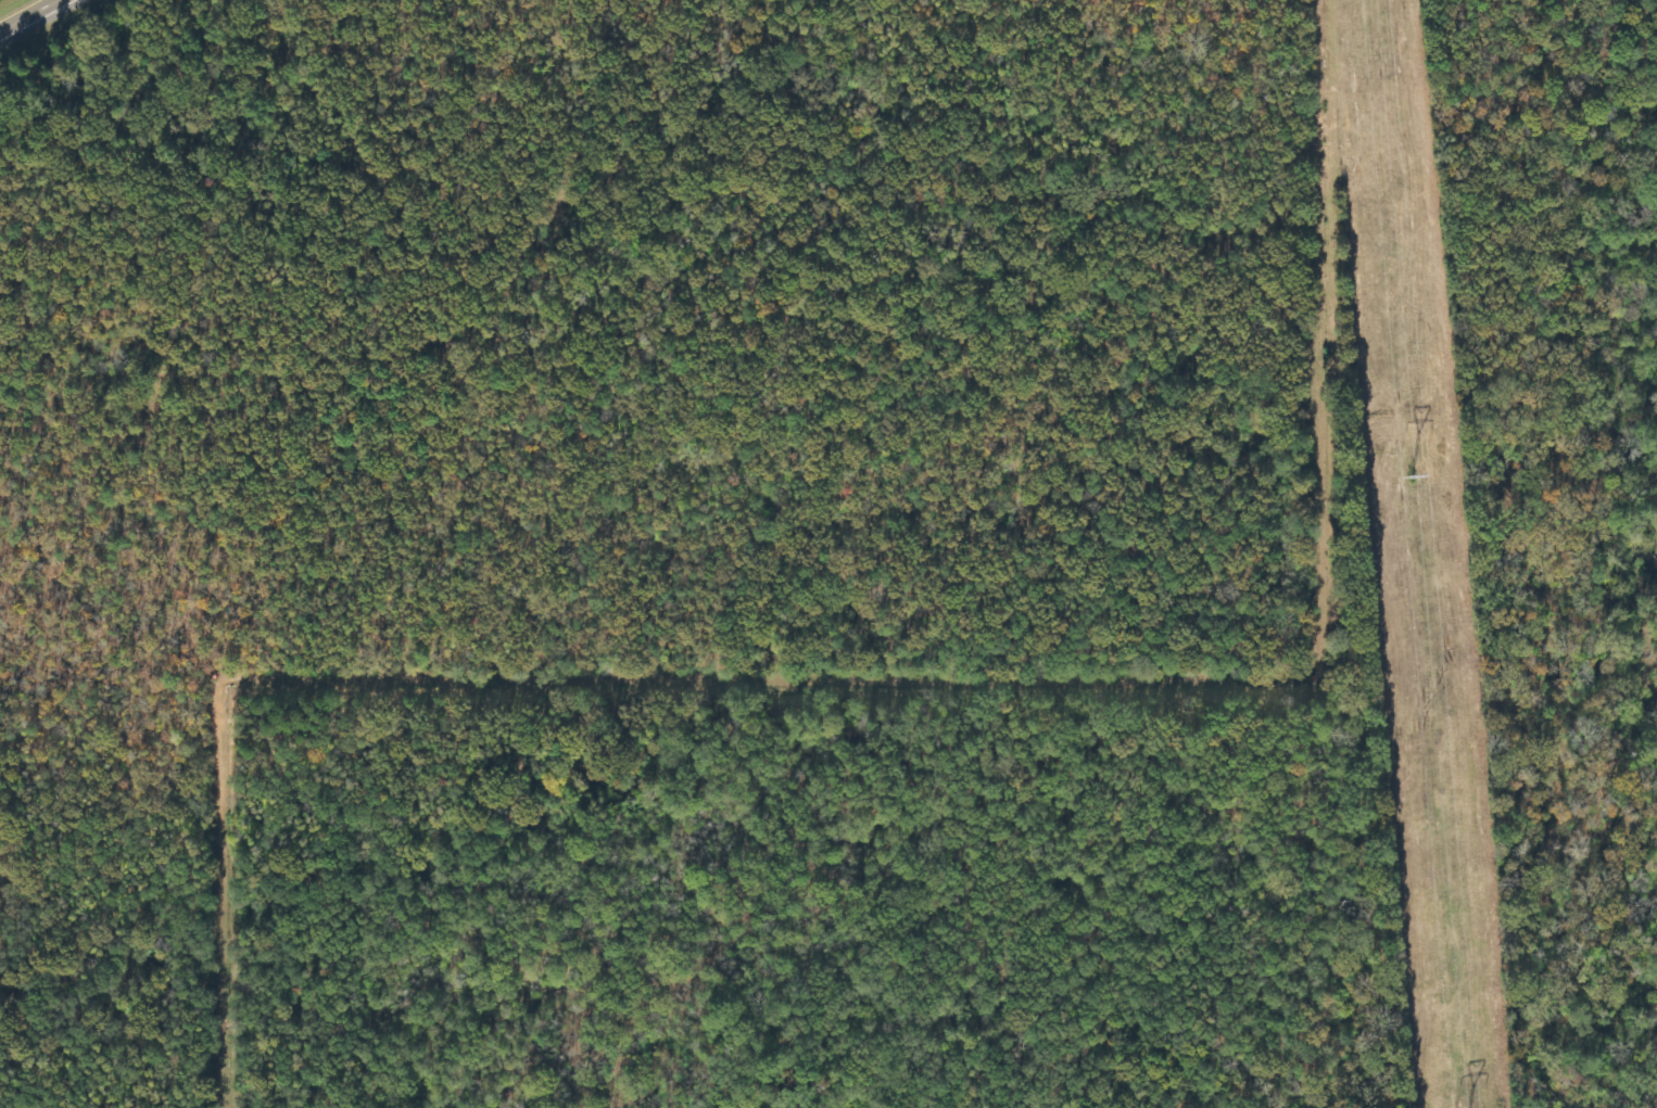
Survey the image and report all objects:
road: (22, 12)
power tower: (1413, 476)

